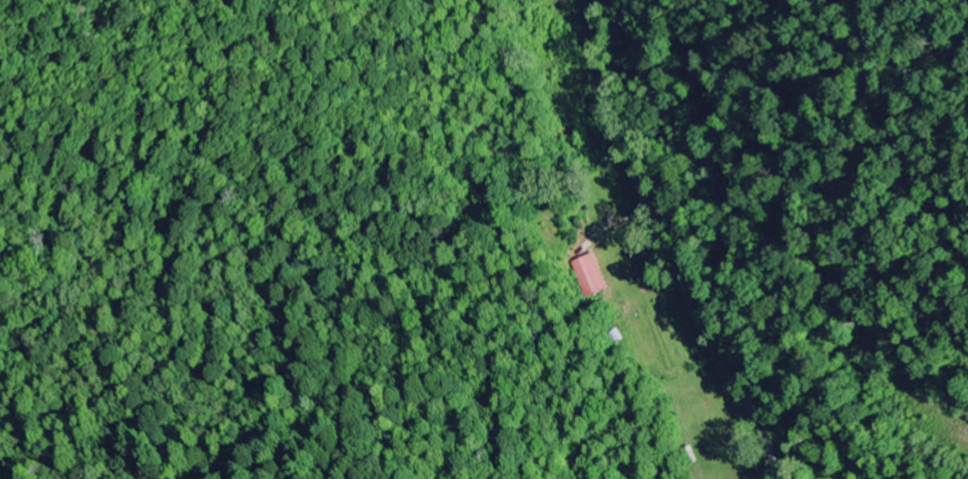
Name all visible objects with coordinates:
road: (676, 242)
building: (590, 276)

